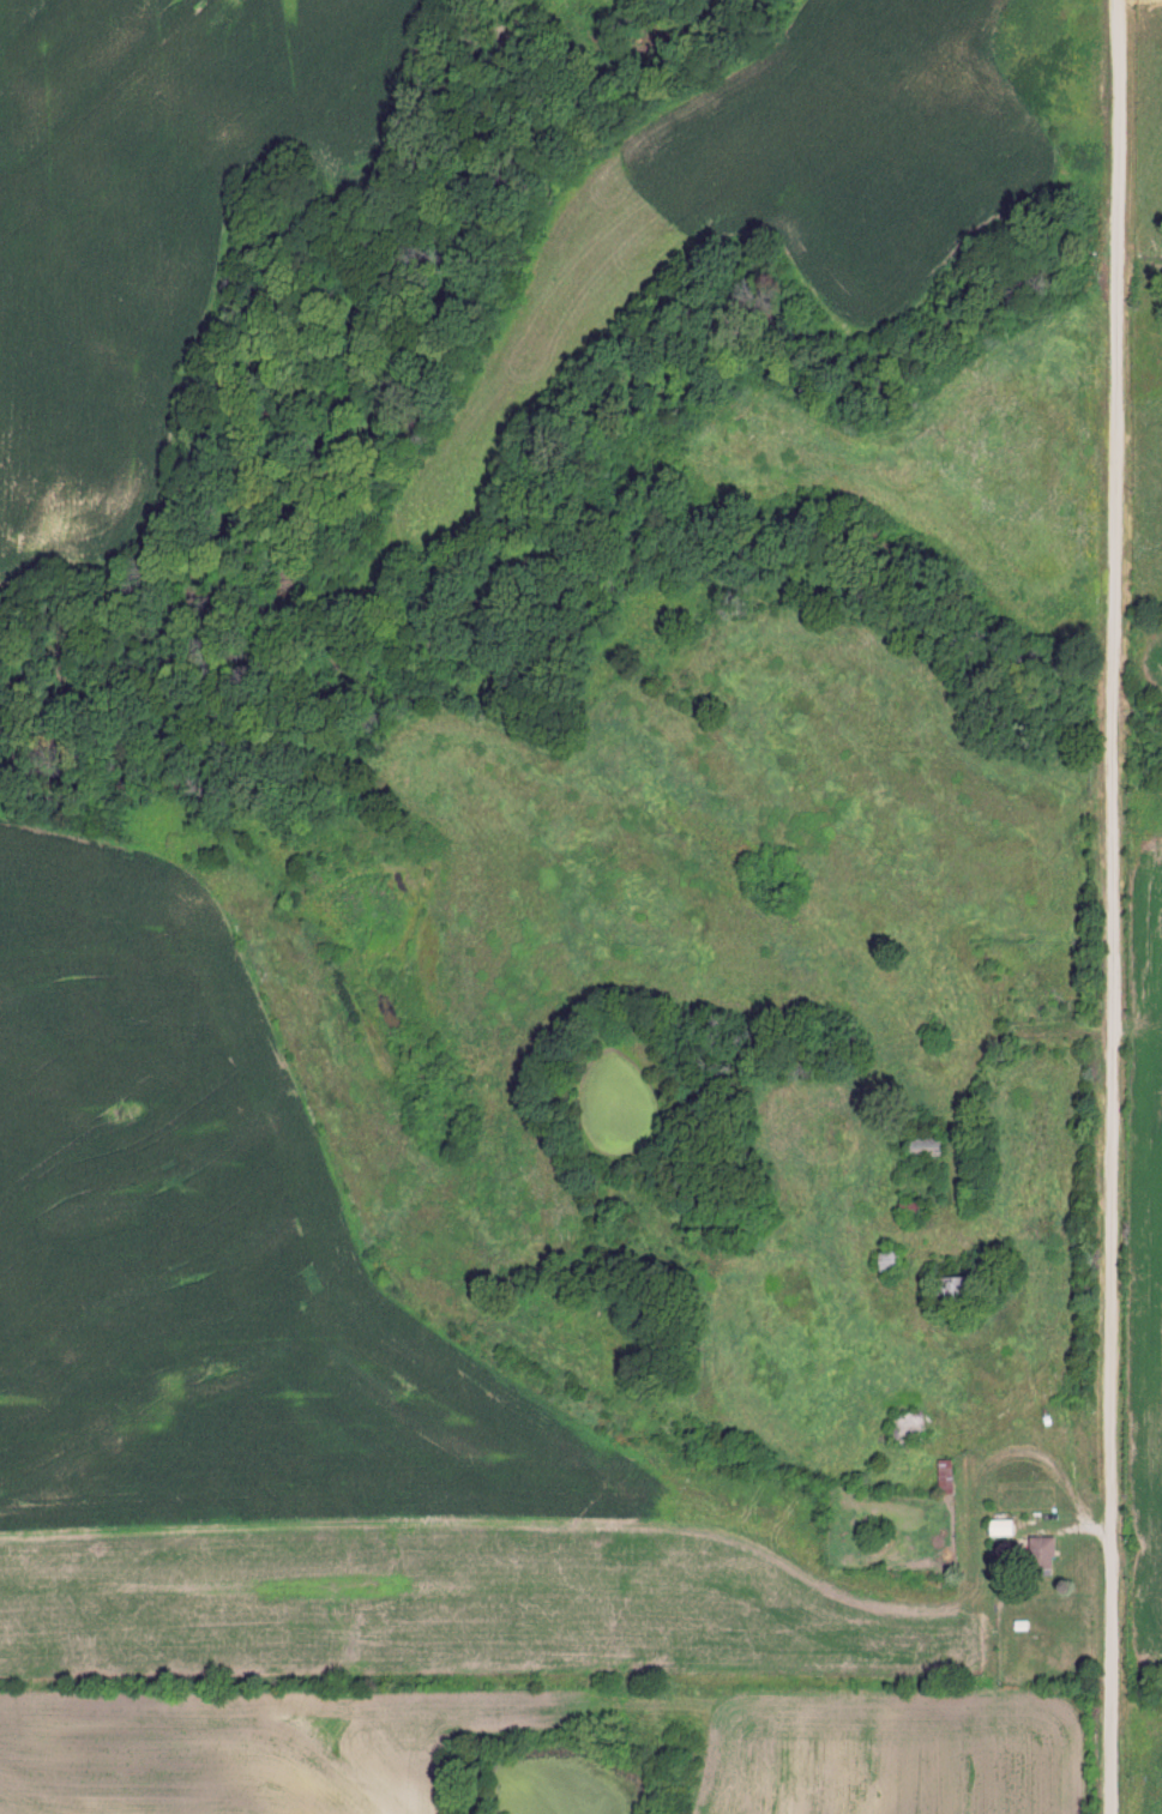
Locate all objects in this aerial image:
road: (1112, 906)
building: (923, 1144)
building: (908, 1209)
building: (887, 1260)
building: (953, 1289)
building: (903, 1427)
building: (944, 1477)
building: (999, 1527)
building: (1040, 1557)

